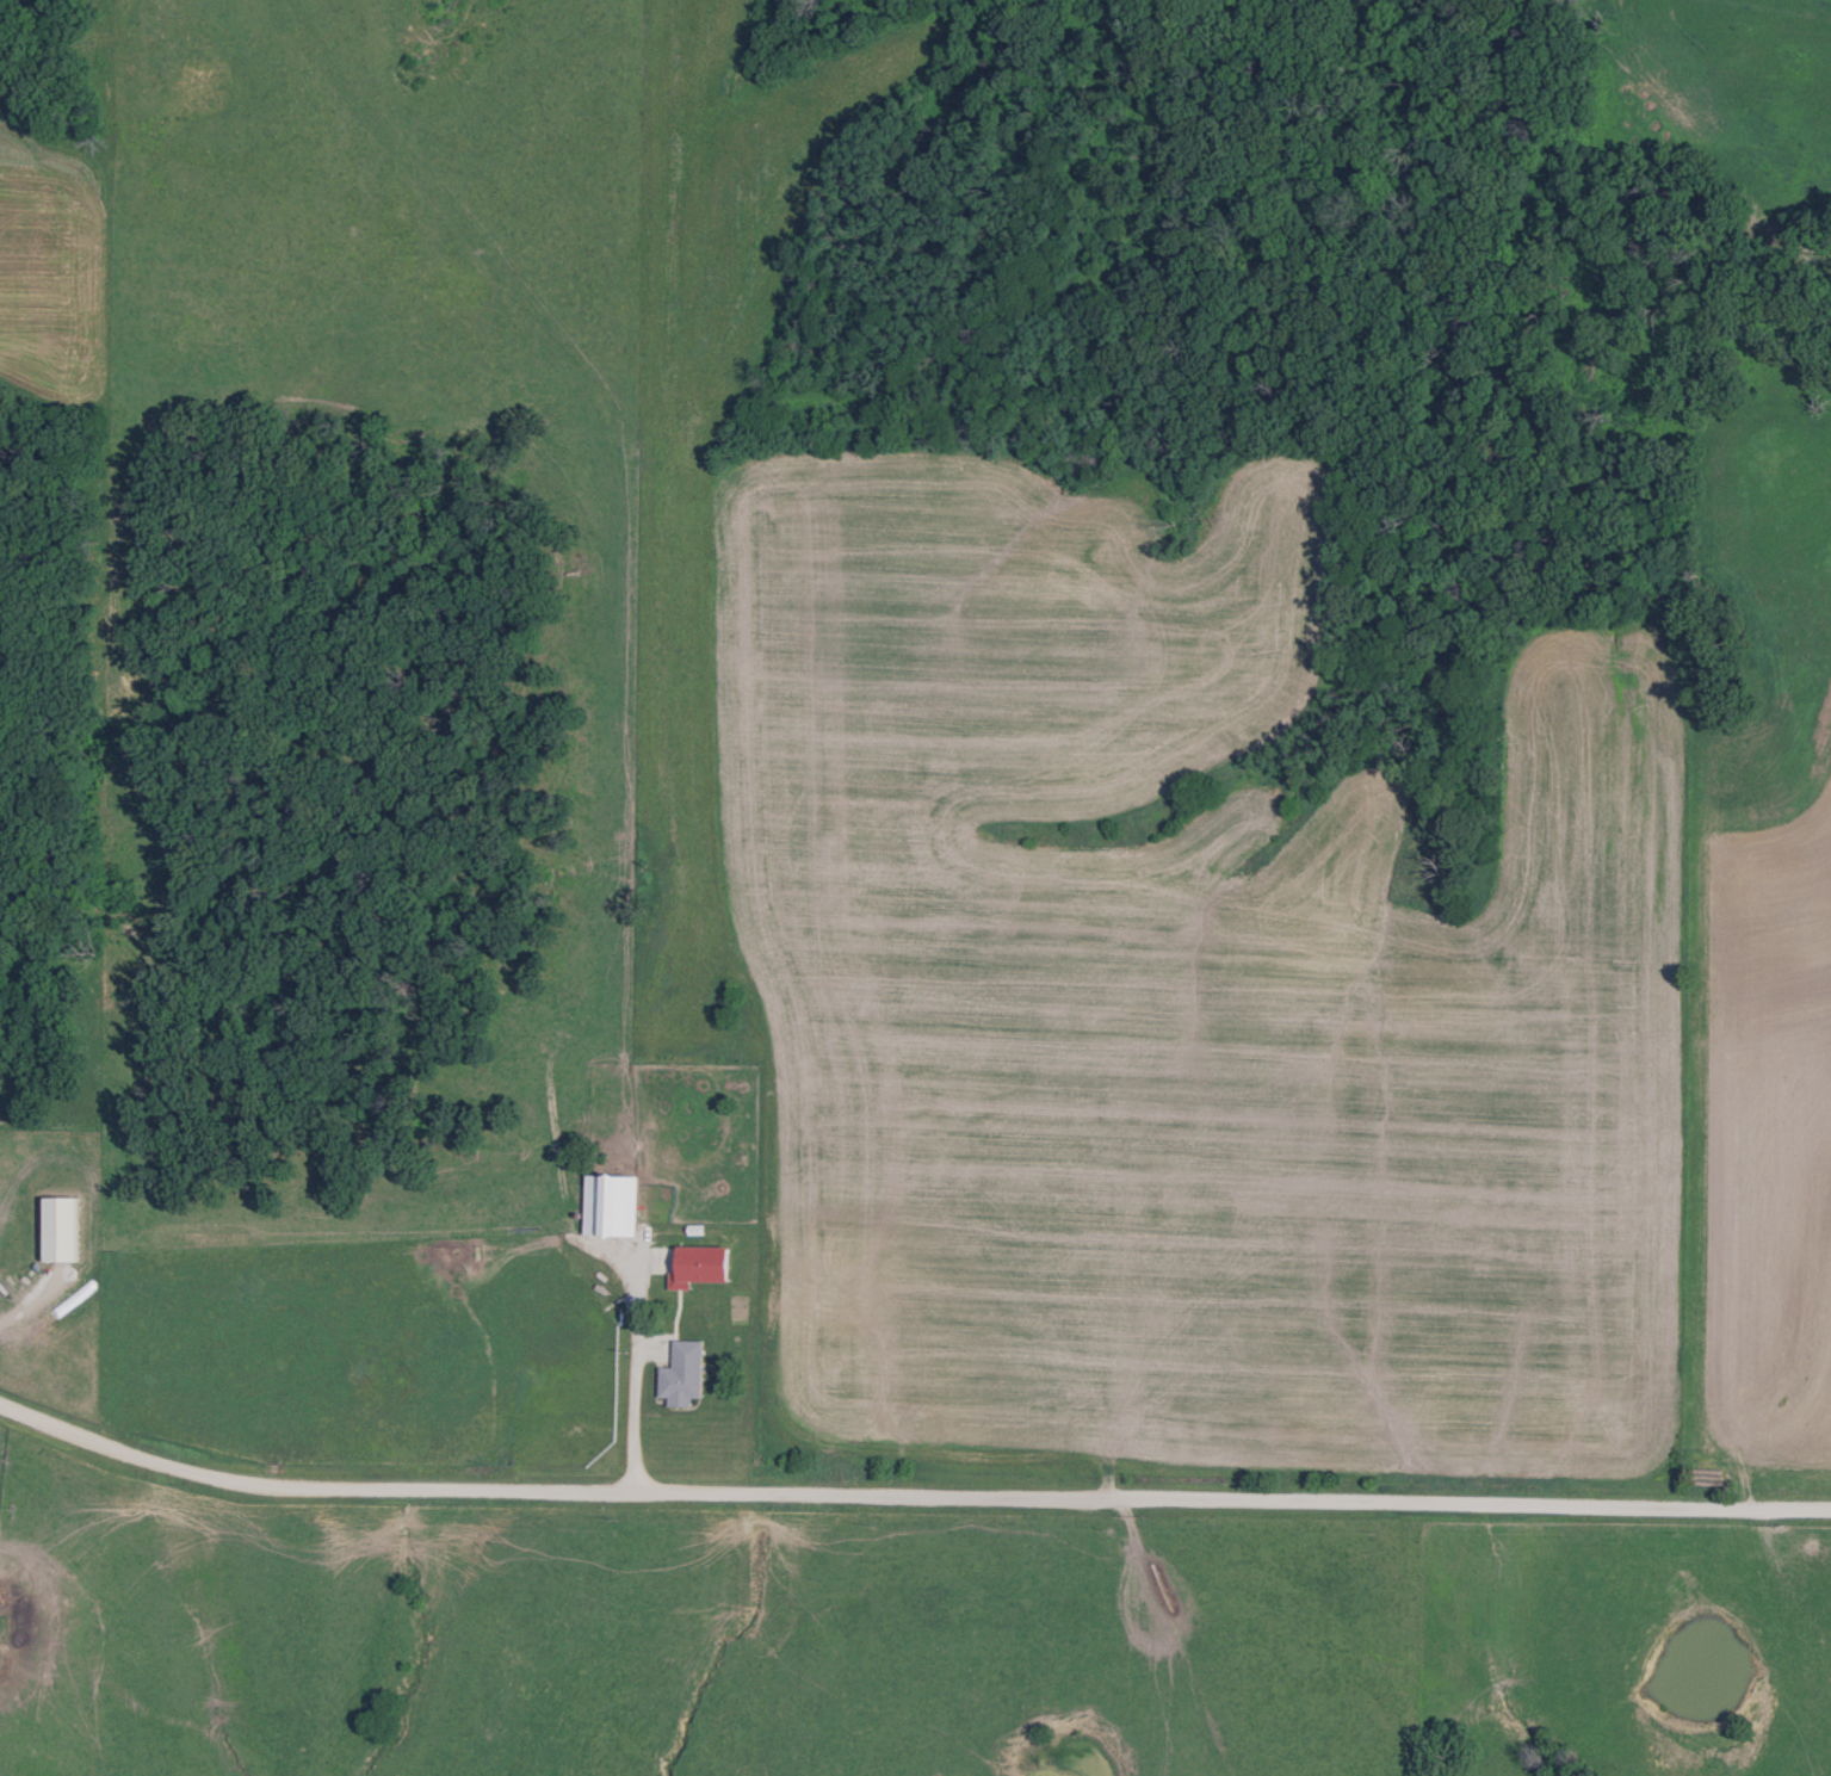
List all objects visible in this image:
building: (608, 1205)
building: (681, 1373)
road: (635, 1411)
road: (908, 1495)
road: (746, 1634)
road: (1177, 1636)

